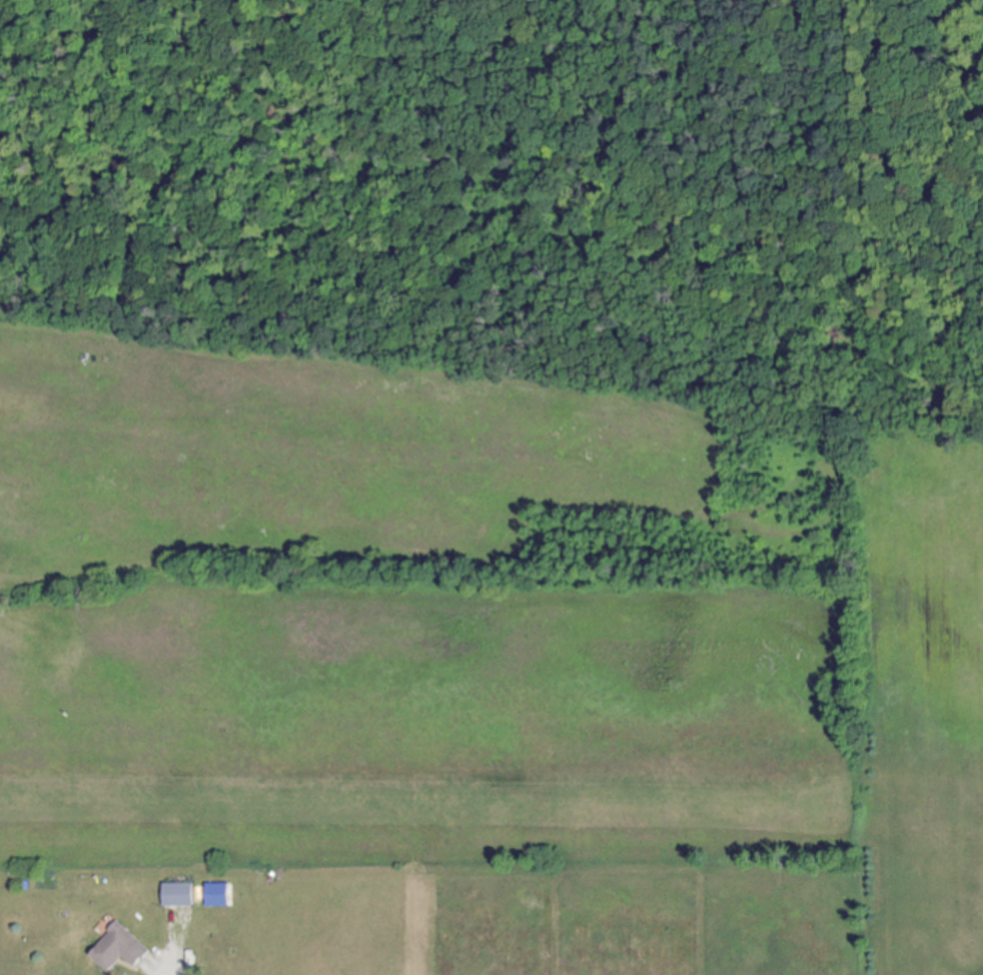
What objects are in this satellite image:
building: (179, 895)
building: (219, 896)
building: (120, 950)

